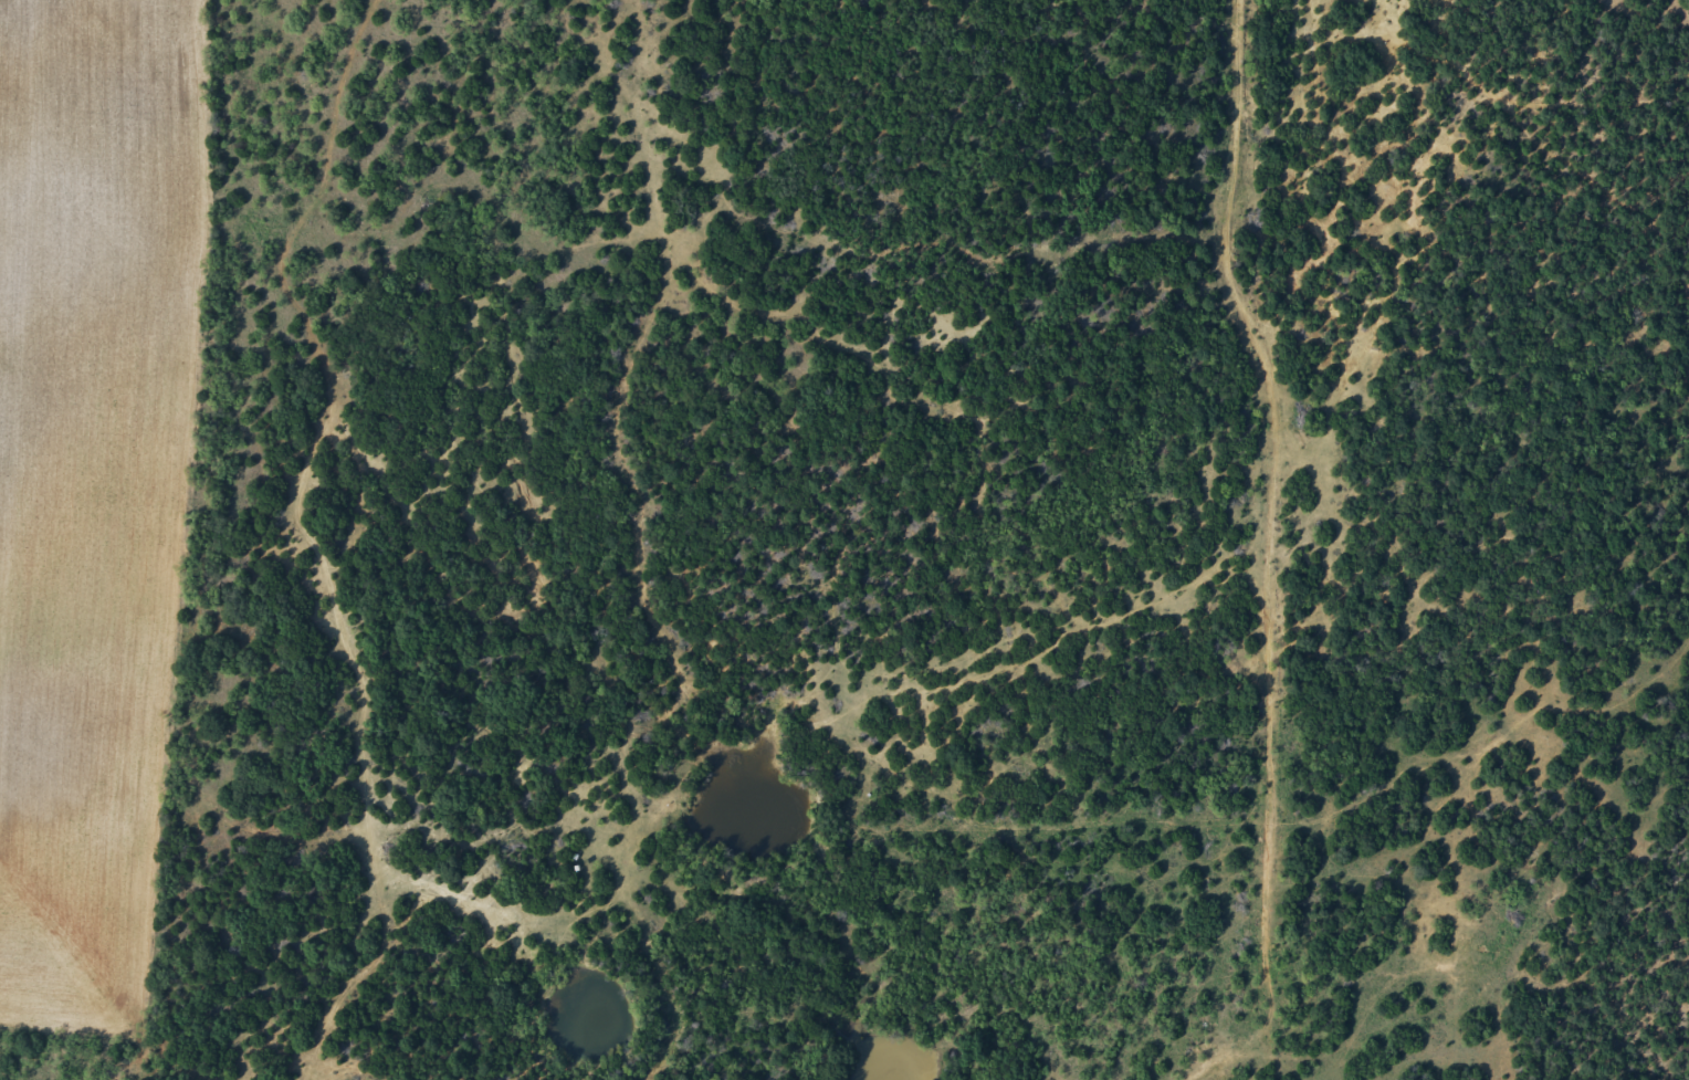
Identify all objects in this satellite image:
road: (1493, 861)
road: (764, 942)

